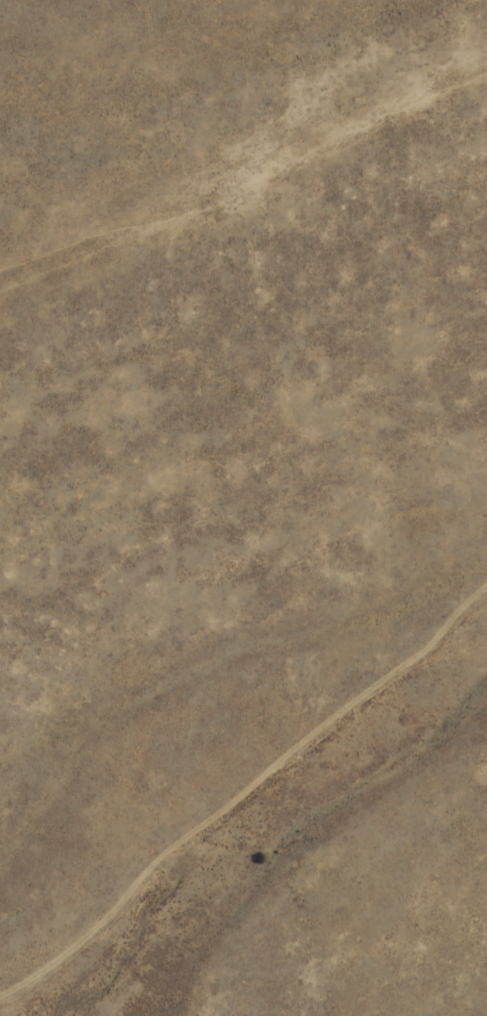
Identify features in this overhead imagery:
road: (251, 759)

